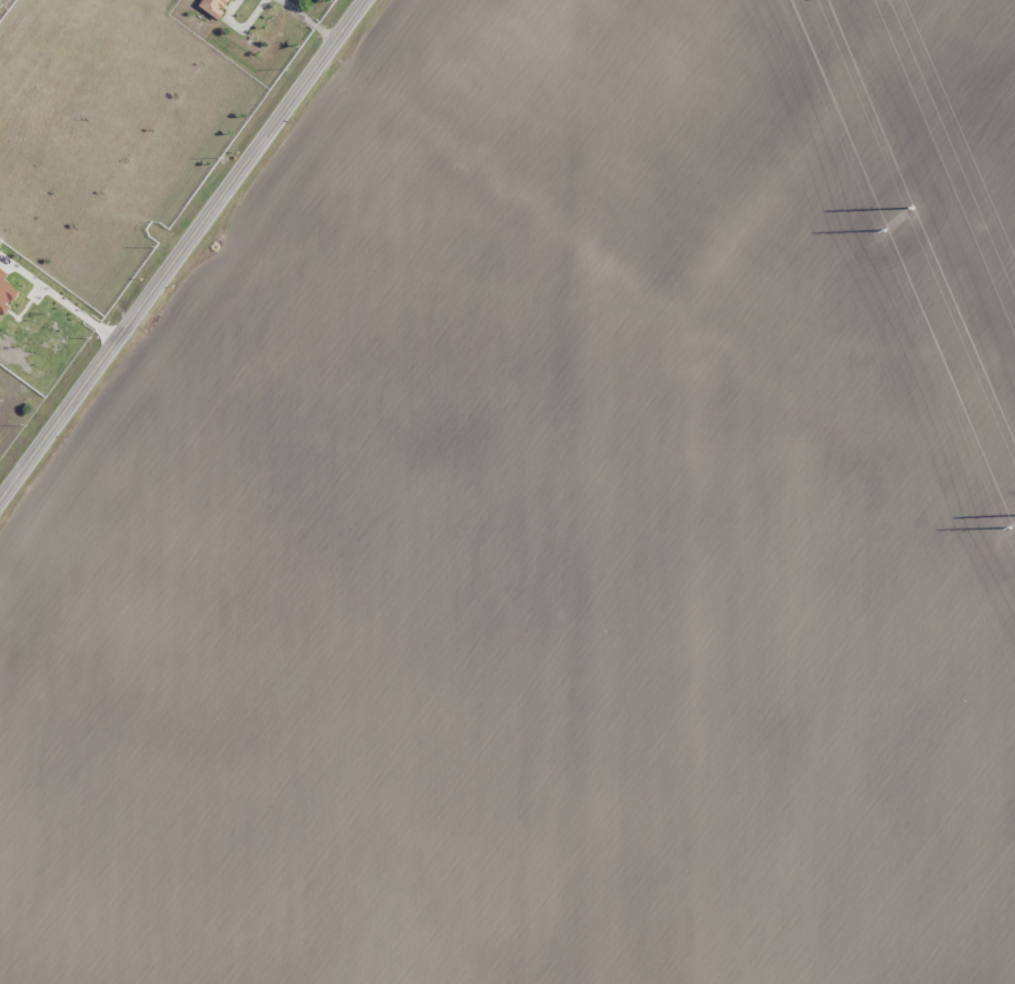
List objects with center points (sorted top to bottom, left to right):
power tower: (913, 215)
power tower: (883, 229)
road: (183, 250)
power tower: (1008, 528)
crop: (553, 529)

